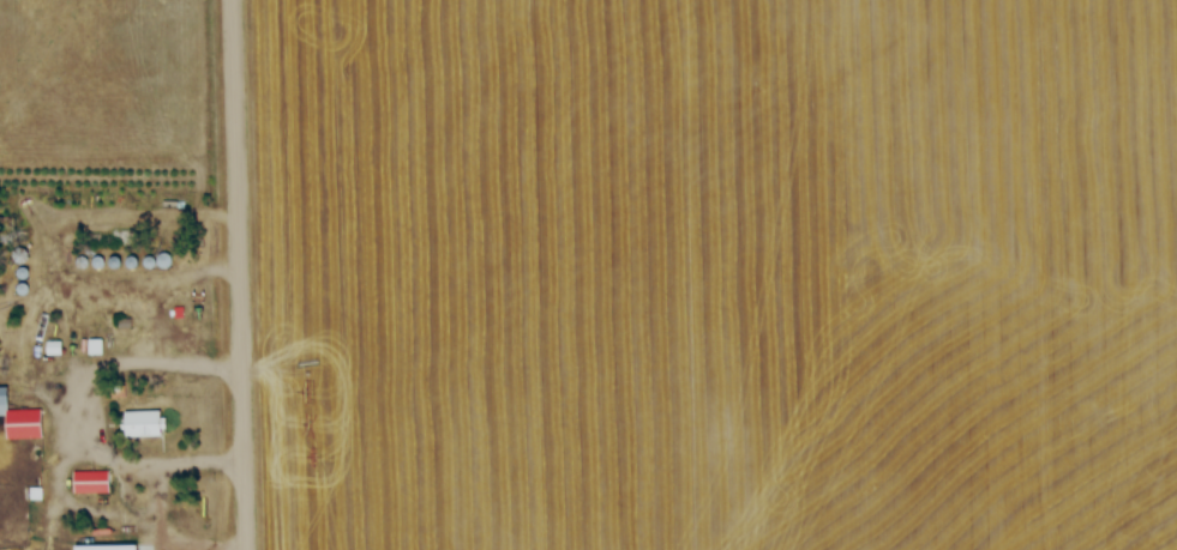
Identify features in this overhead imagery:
road: (239, 274)
building: (20, 419)
building: (148, 424)
building: (92, 483)

